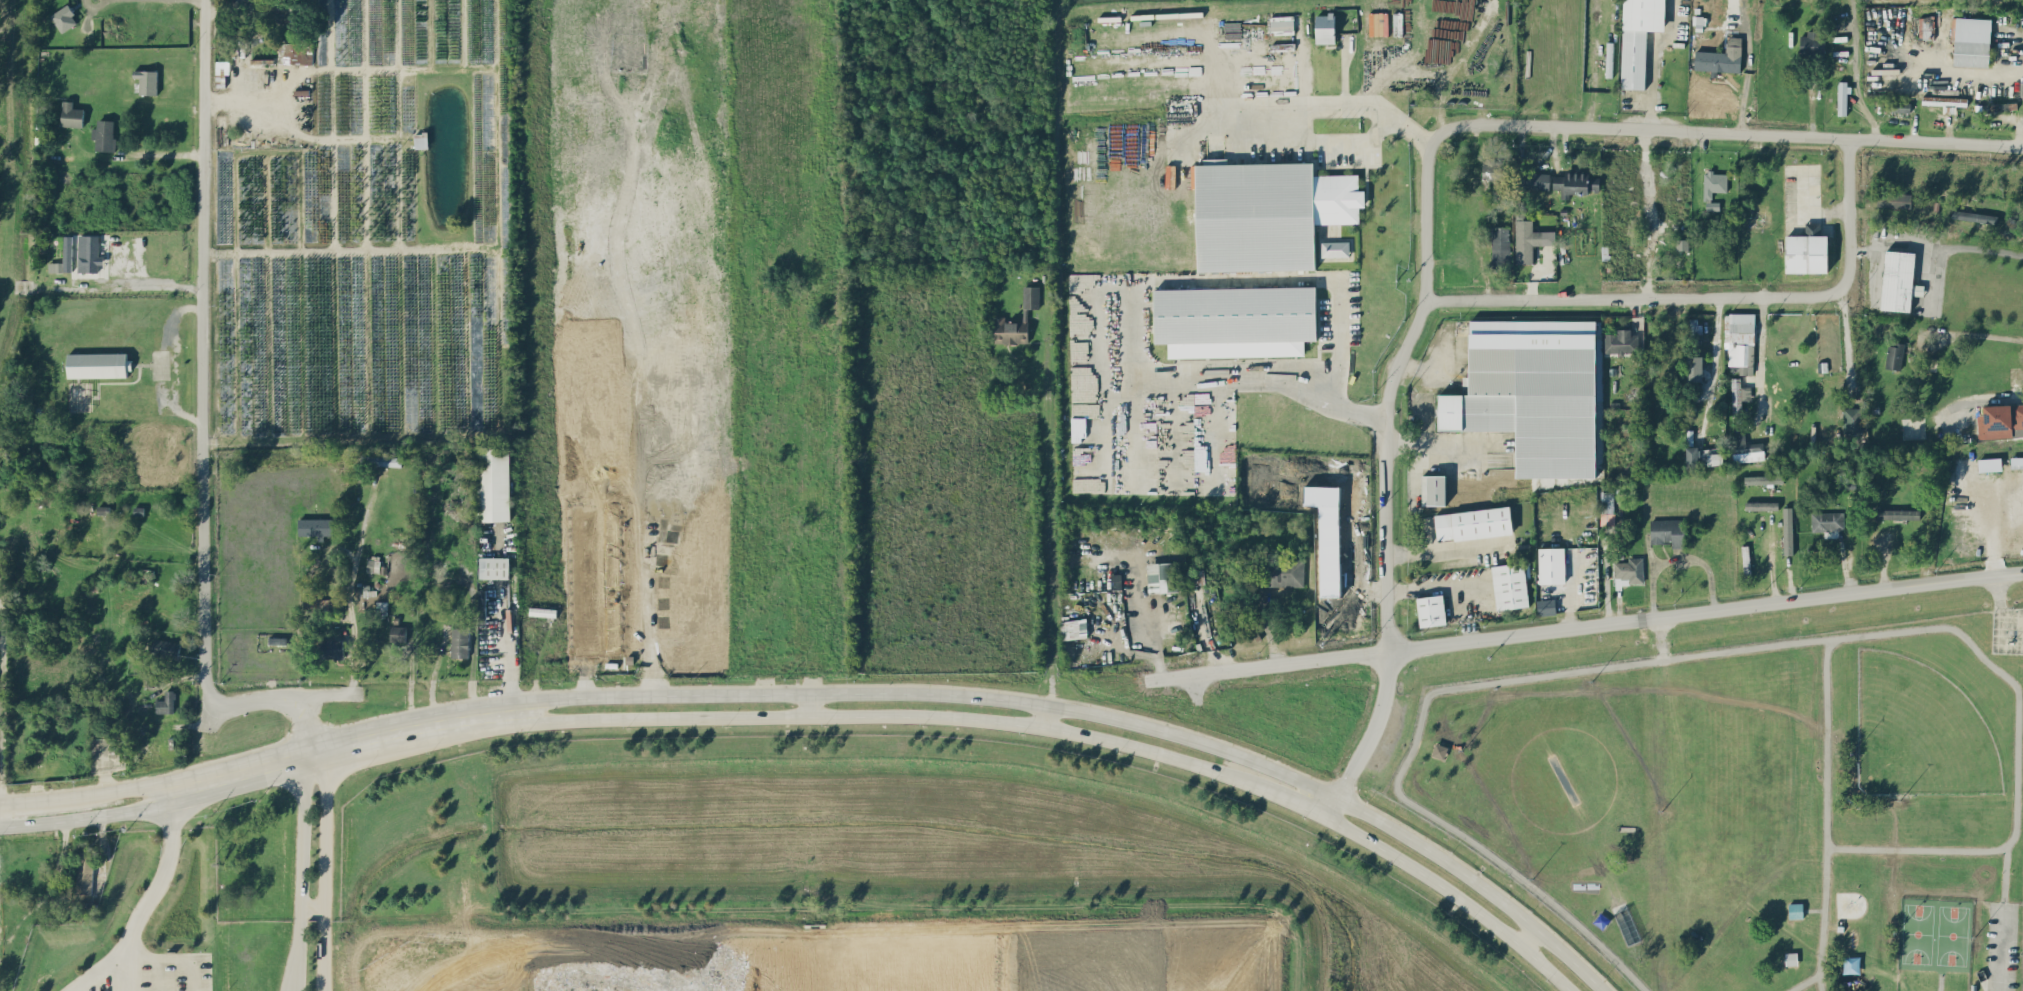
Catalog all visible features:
building: (64, 18)
building: (1372, 21)
building: (1282, 23)
building: (1925, 27)
building: (1325, 28)
building: (1638, 38)
building: (1971, 41)
building: (1812, 42)
building: (297, 52)
building: (1721, 57)
road: (1653, 58)
road: (1747, 64)
road: (350, 69)
building: (147, 80)
building: (1842, 97)
road: (1329, 104)
building: (2001, 106)
building: (72, 114)
building: (104, 134)
road: (1363, 141)
road: (399, 158)
building: (1494, 169)
building: (1535, 180)
building: (1576, 183)
building: (1713, 187)
road: (1430, 190)
building: (1893, 199)
road: (1651, 209)
building: (1267, 213)
building: (1973, 216)
building: (1529, 240)
building: (1682, 244)
road: (1938, 245)
building: (1500, 247)
road: (358, 248)
building: (1334, 248)
building: (1807, 250)
building: (89, 253)
building: (64, 257)
road: (1184, 277)
building: (1897, 280)
road: (126, 287)
road: (1714, 294)
building: (1030, 296)
building: (1235, 320)
building: (1011, 329)
building: (1694, 331)
road: (1982, 334)
road: (1847, 338)
building: (1621, 342)
road: (1761, 356)
building: (1894, 356)
road: (161, 362)
road: (1715, 363)
building: (98, 364)
building: (1694, 368)
building: (1532, 392)
building: (1739, 397)
building: (1851, 420)
building: (2003, 420)
building: (1083, 421)
road: (203, 426)
road: (637, 427)
road: (362, 436)
building: (1746, 449)
building: (1704, 456)
building: (382, 460)
building: (1989, 464)
building: (1763, 479)
building: (493, 483)
building: (1433, 489)
building: (1761, 505)
building: (104, 509)
building: (1898, 513)
building: (1827, 520)
road: (1047, 523)
building: (1473, 523)
building: (315, 526)
building: (1787, 530)
building: (1667, 531)
road: (1445, 550)
road: (1771, 561)
building: (373, 565)
building: (1551, 565)
building: (494, 567)
building: (1630, 569)
building: (1279, 571)
building: (1162, 576)
building: (1195, 577)
building: (1510, 585)
road: (349, 591)
building: (1546, 606)
building: (1431, 610)
road: (1585, 623)
building: (1073, 628)
building: (398, 633)
building: (459, 642)
road: (511, 644)
building: (165, 648)
building: (331, 649)
road: (511, 683)
road: (753, 692)
building: (166, 702)
road: (809, 703)
road: (753, 715)
road: (1045, 716)
road: (309, 721)
road: (350, 741)
road: (1123, 747)
road: (315, 749)
building: (1439, 750)
road: (1318, 787)
road: (88, 794)
road: (1294, 801)
road: (89, 816)
building: (84, 872)
road: (1451, 894)
road: (146, 904)
road: (1529, 939)
landfill: (779, 949)
road: (2003, 955)
road: (177, 958)
road: (130, 963)

